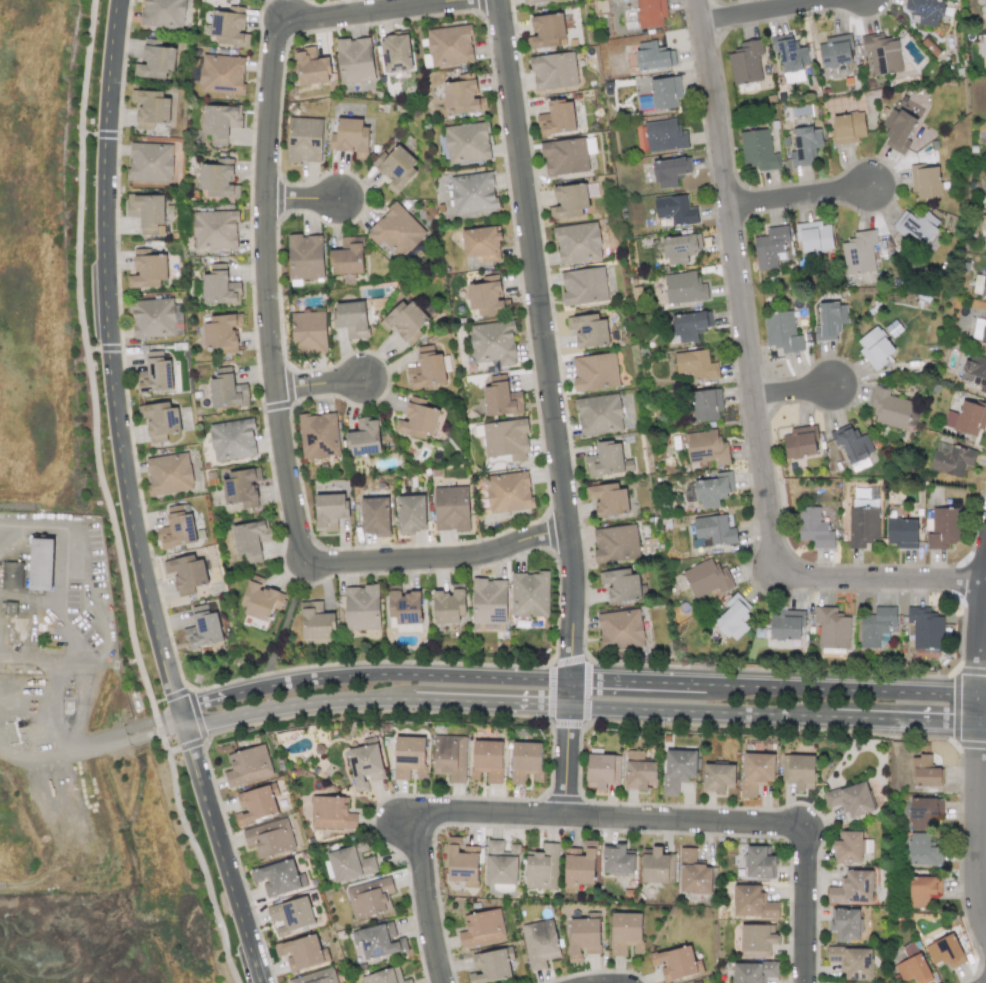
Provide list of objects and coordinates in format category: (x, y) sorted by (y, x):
building: (534, 1)
building: (985, 6)
building: (924, 12)
building: (162, 13)
building: (650, 13)
road: (775, 13)
building: (229, 26)
building: (545, 31)
building: (449, 46)
building: (835, 51)
building: (396, 53)
building: (882, 53)
building: (652, 56)
building: (790, 57)
building: (155, 60)
building: (355, 60)
building: (746, 62)
building: (310, 67)
building: (553, 71)
building: (221, 74)
building: (665, 92)
building: (463, 97)
building: (150, 108)
building: (556, 118)
building: (221, 122)
building: (847, 128)
building: (897, 130)
building: (665, 136)
building: (351, 137)
building: (304, 140)
building: (467, 143)
building: (805, 145)
building: (758, 150)
building: (564, 157)
building: (150, 162)
building: (396, 166)
building: (670, 171)
building: (219, 179)
building: (925, 181)
building: (473, 192)
road: (802, 199)
building: (569, 201)
road: (307, 202)
building: (675, 209)
building: (147, 211)
building: (917, 226)
building: (215, 229)
building: (396, 230)
building: (814, 236)
building: (481, 243)
building: (577, 243)
building: (770, 247)
building: (680, 248)
building: (859, 252)
building: (348, 256)
building: (305, 257)
building: (147, 269)
building: (584, 286)
building: (979, 286)
building: (219, 287)
building: (684, 288)
building: (488, 297)
building: (152, 318)
building: (351, 319)
building: (405, 321)
building: (830, 321)
building: (689, 326)
building: (588, 329)
building: (782, 331)
building: (222, 332)
building: (308, 332)
road: (274, 335)
building: (493, 343)
building: (875, 347)
building: (695, 365)
road: (88, 366)
building: (426, 369)
building: (976, 370)
building: (595, 372)
building: (154, 374)
road: (321, 386)
building: (226, 388)
road: (754, 388)
road: (797, 392)
building: (501, 397)
building: (706, 404)
road: (550, 407)
building: (890, 408)
building: (599, 414)
building: (967, 417)
building: (417, 419)
building: (160, 420)
building: (319, 435)
building: (364, 438)
building: (232, 439)
building: (504, 439)
building: (800, 442)
building: (852, 443)
building: (706, 447)
building: (951, 459)
building: (607, 460)
building: (168, 474)
building: (241, 487)
building: (713, 490)
building: (508, 492)
road: (127, 499)
building: (608, 499)
building: (451, 508)
building: (329, 511)
building: (411, 513)
building: (375, 516)
building: (862, 525)
building: (945, 527)
building: (176, 528)
building: (814, 528)
building: (714, 529)
building: (902, 533)
building: (250, 539)
building: (616, 544)
building: (41, 564)
road: (82, 571)
building: (186, 573)
building: (12, 575)
building: (707, 578)
building: (620, 585)
building: (529, 594)
building: (489, 601)
building: (449, 605)
building: (361, 607)
building: (404, 607)
building: (10, 608)
building: (733, 618)
building: (316, 621)
building: (786, 625)
building: (203, 627)
building: (876, 627)
building: (925, 627)
building: (832, 628)
building: (620, 629)
road: (40, 658)
road: (566, 680)
road: (570, 706)
road: (143, 730)
road: (60, 731)
building: (409, 756)
building: (450, 757)
building: (487, 760)
building: (526, 762)
road: (976, 763)
building: (247, 765)
building: (365, 766)
building: (678, 769)
building: (602, 770)
building: (638, 770)
building: (798, 771)
building: (756, 772)
building: (924, 772)
building: (717, 777)
building: (850, 799)
building: (256, 804)
building: (921, 812)
building: (331, 813)
road: (606, 819)
building: (269, 838)
building: (848, 847)
building: (924, 851)
road: (195, 854)
building: (617, 859)
building: (759, 862)
building: (351, 863)
building: (462, 863)
building: (501, 863)
building: (579, 865)
building: (658, 866)
building: (542, 867)
building: (693, 873)
building: (278, 877)
building: (852, 888)
building: (923, 890)
building: (370, 897)
road: (424, 898)
building: (752, 902)
road: (802, 904)
building: (291, 915)
building: (845, 924)
building: (482, 928)
building: (626, 933)
building: (583, 938)
building: (756, 939)
building: (379, 940)
building: (540, 943)
building: (944, 951)
building: (301, 952)
building: (851, 961)
building: (674, 963)
building: (490, 966)
building: (913, 969)
building: (753, 972)
building: (384, 976)
building: (316, 977)

